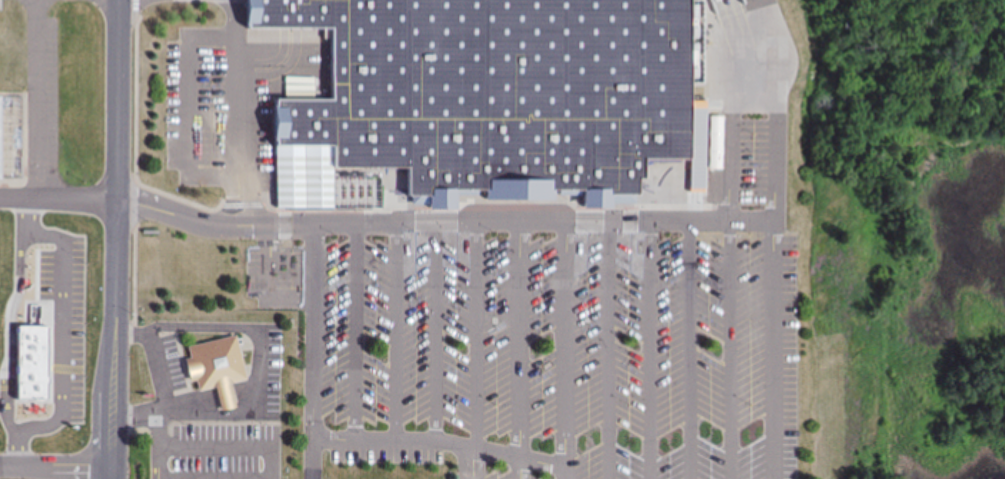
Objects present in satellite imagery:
building: (491, 92)
parking lot: (52, 97)
road: (36, 99)
road: (774, 108)
road: (192, 111)
road: (238, 112)
parking lot: (215, 113)
building: (10, 139)
road: (731, 139)
road: (60, 200)
road: (672, 223)
road: (215, 227)
road: (119, 239)
road: (272, 281)
road: (224, 326)
road: (358, 333)
road: (397, 333)
road: (439, 334)
parking lot: (565, 336)
road: (478, 337)
road: (522, 340)
road: (568, 344)
road: (612, 351)
road: (652, 351)
road: (692, 351)
road: (733, 351)
building: (212, 368)
road: (158, 370)
road: (222, 395)
road: (165, 409)
road: (221, 415)
road: (313, 430)
road: (213, 447)
parking lot: (216, 453)
road: (313, 459)
road: (529, 459)
road: (158, 461)
road: (521, 468)
road: (58, 471)
road: (175, 478)

